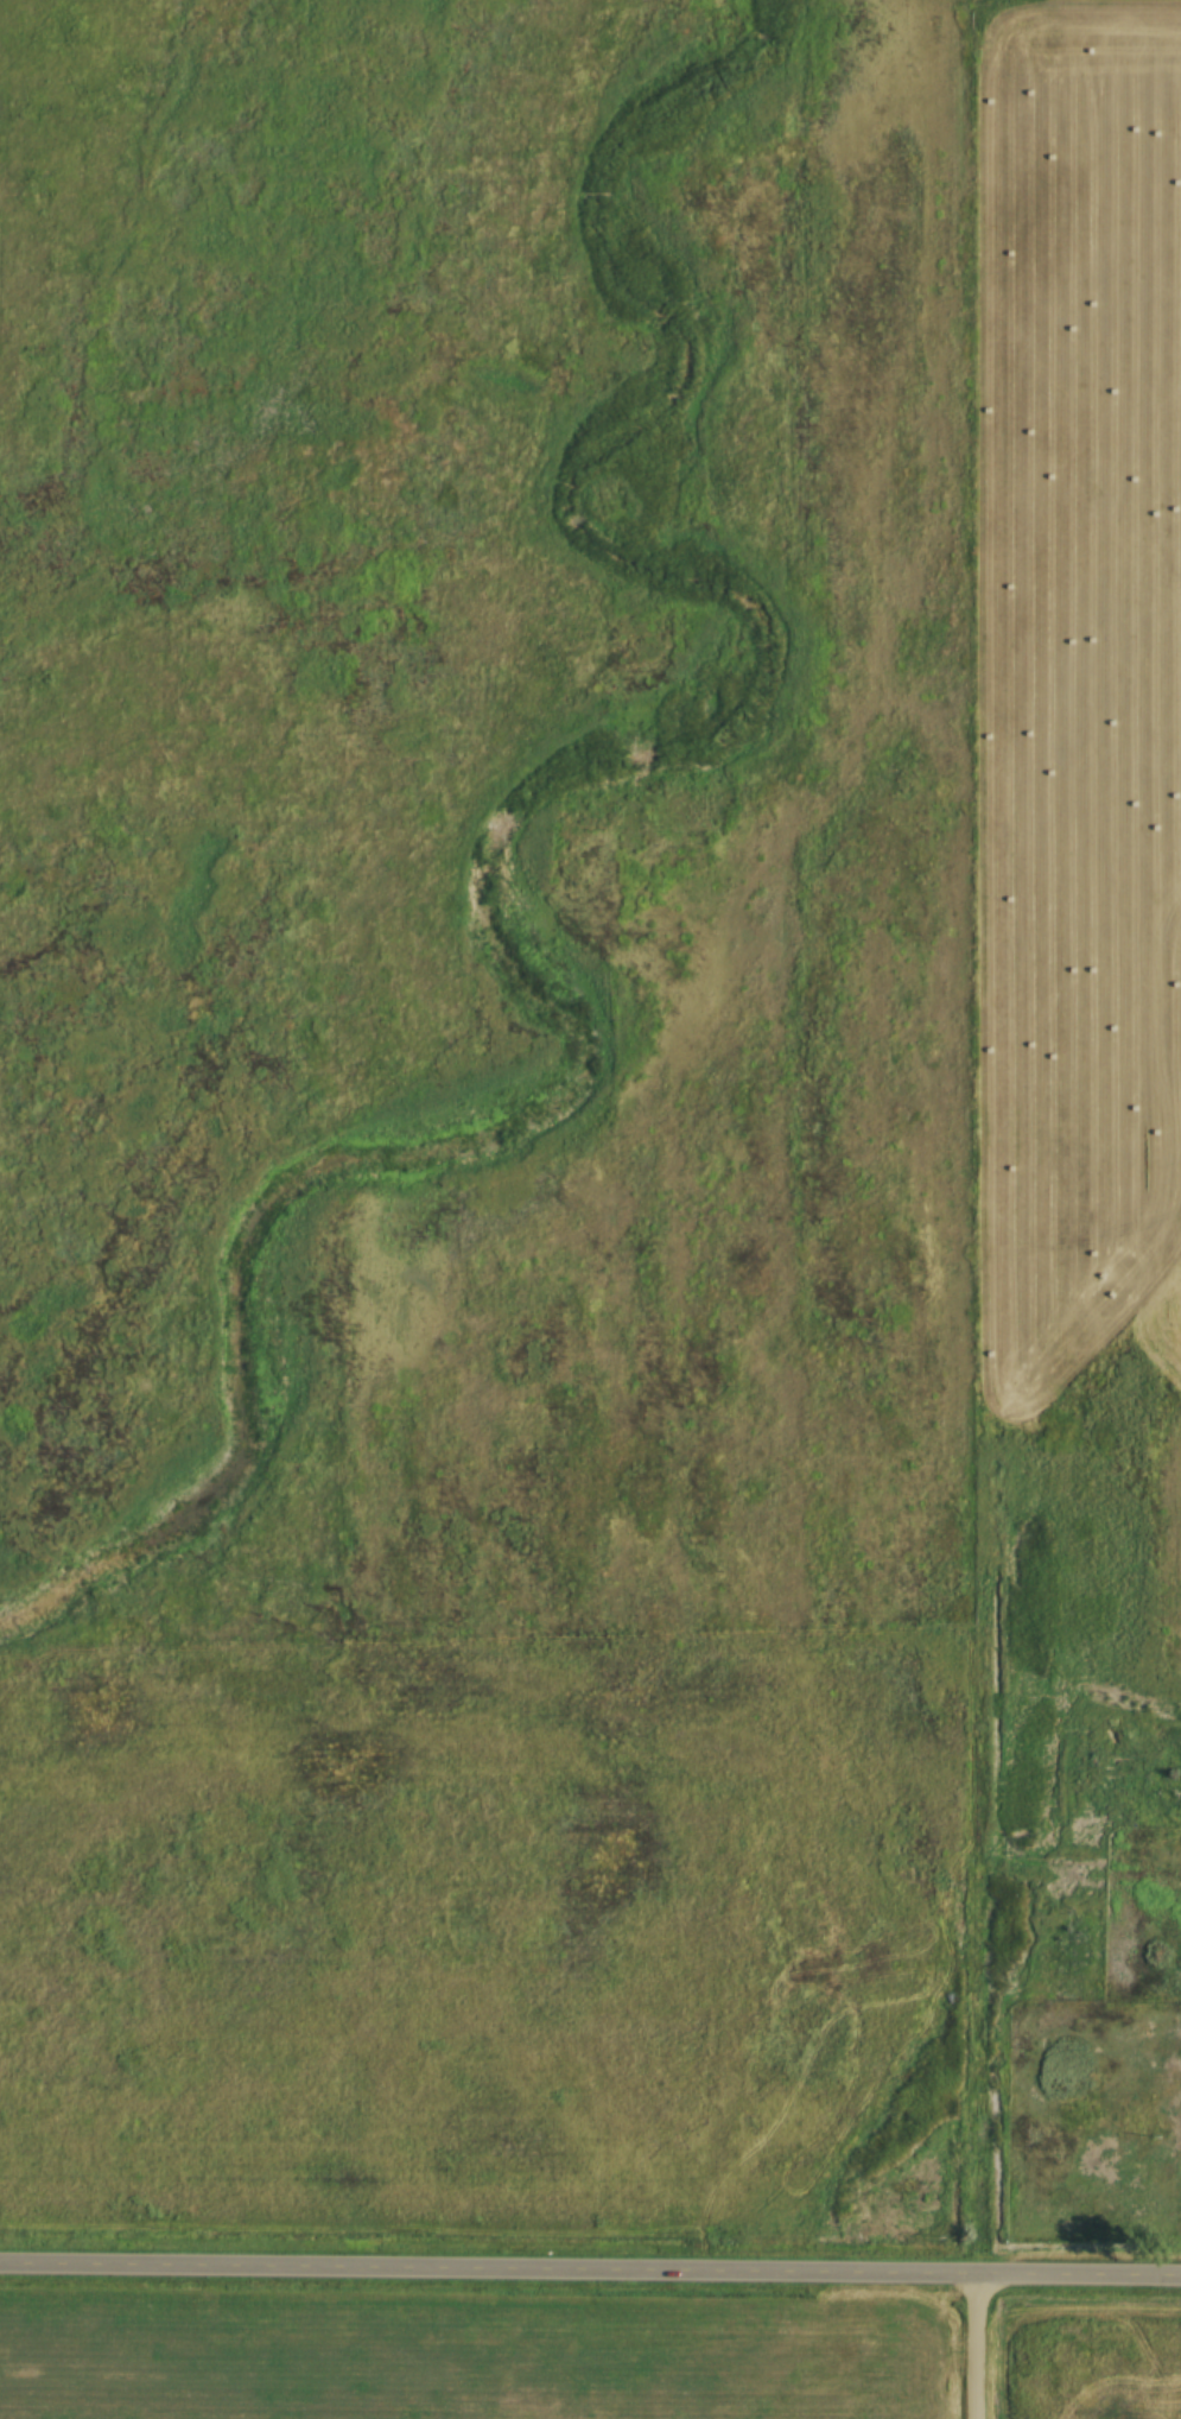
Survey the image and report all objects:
road: (590, 2273)
road: (974, 2348)

